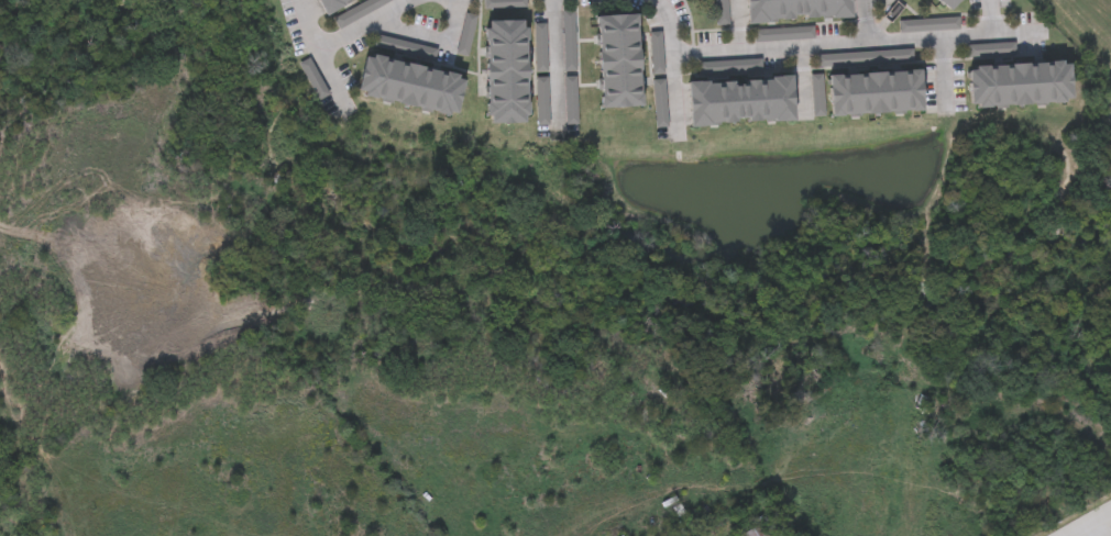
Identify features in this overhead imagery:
building: (330, 3)
building: (952, 4)
building: (800, 11)
road: (866, 19)
road: (364, 23)
road: (732, 24)
road: (668, 25)
road: (432, 38)
road: (856, 38)
road: (318, 52)
road: (554, 62)
building: (620, 64)
building: (509, 74)
building: (313, 80)
building: (1022, 87)
building: (414, 88)
road: (676, 93)
building: (877, 96)
building: (743, 103)
road: (1094, 526)
building: (766, 529)

